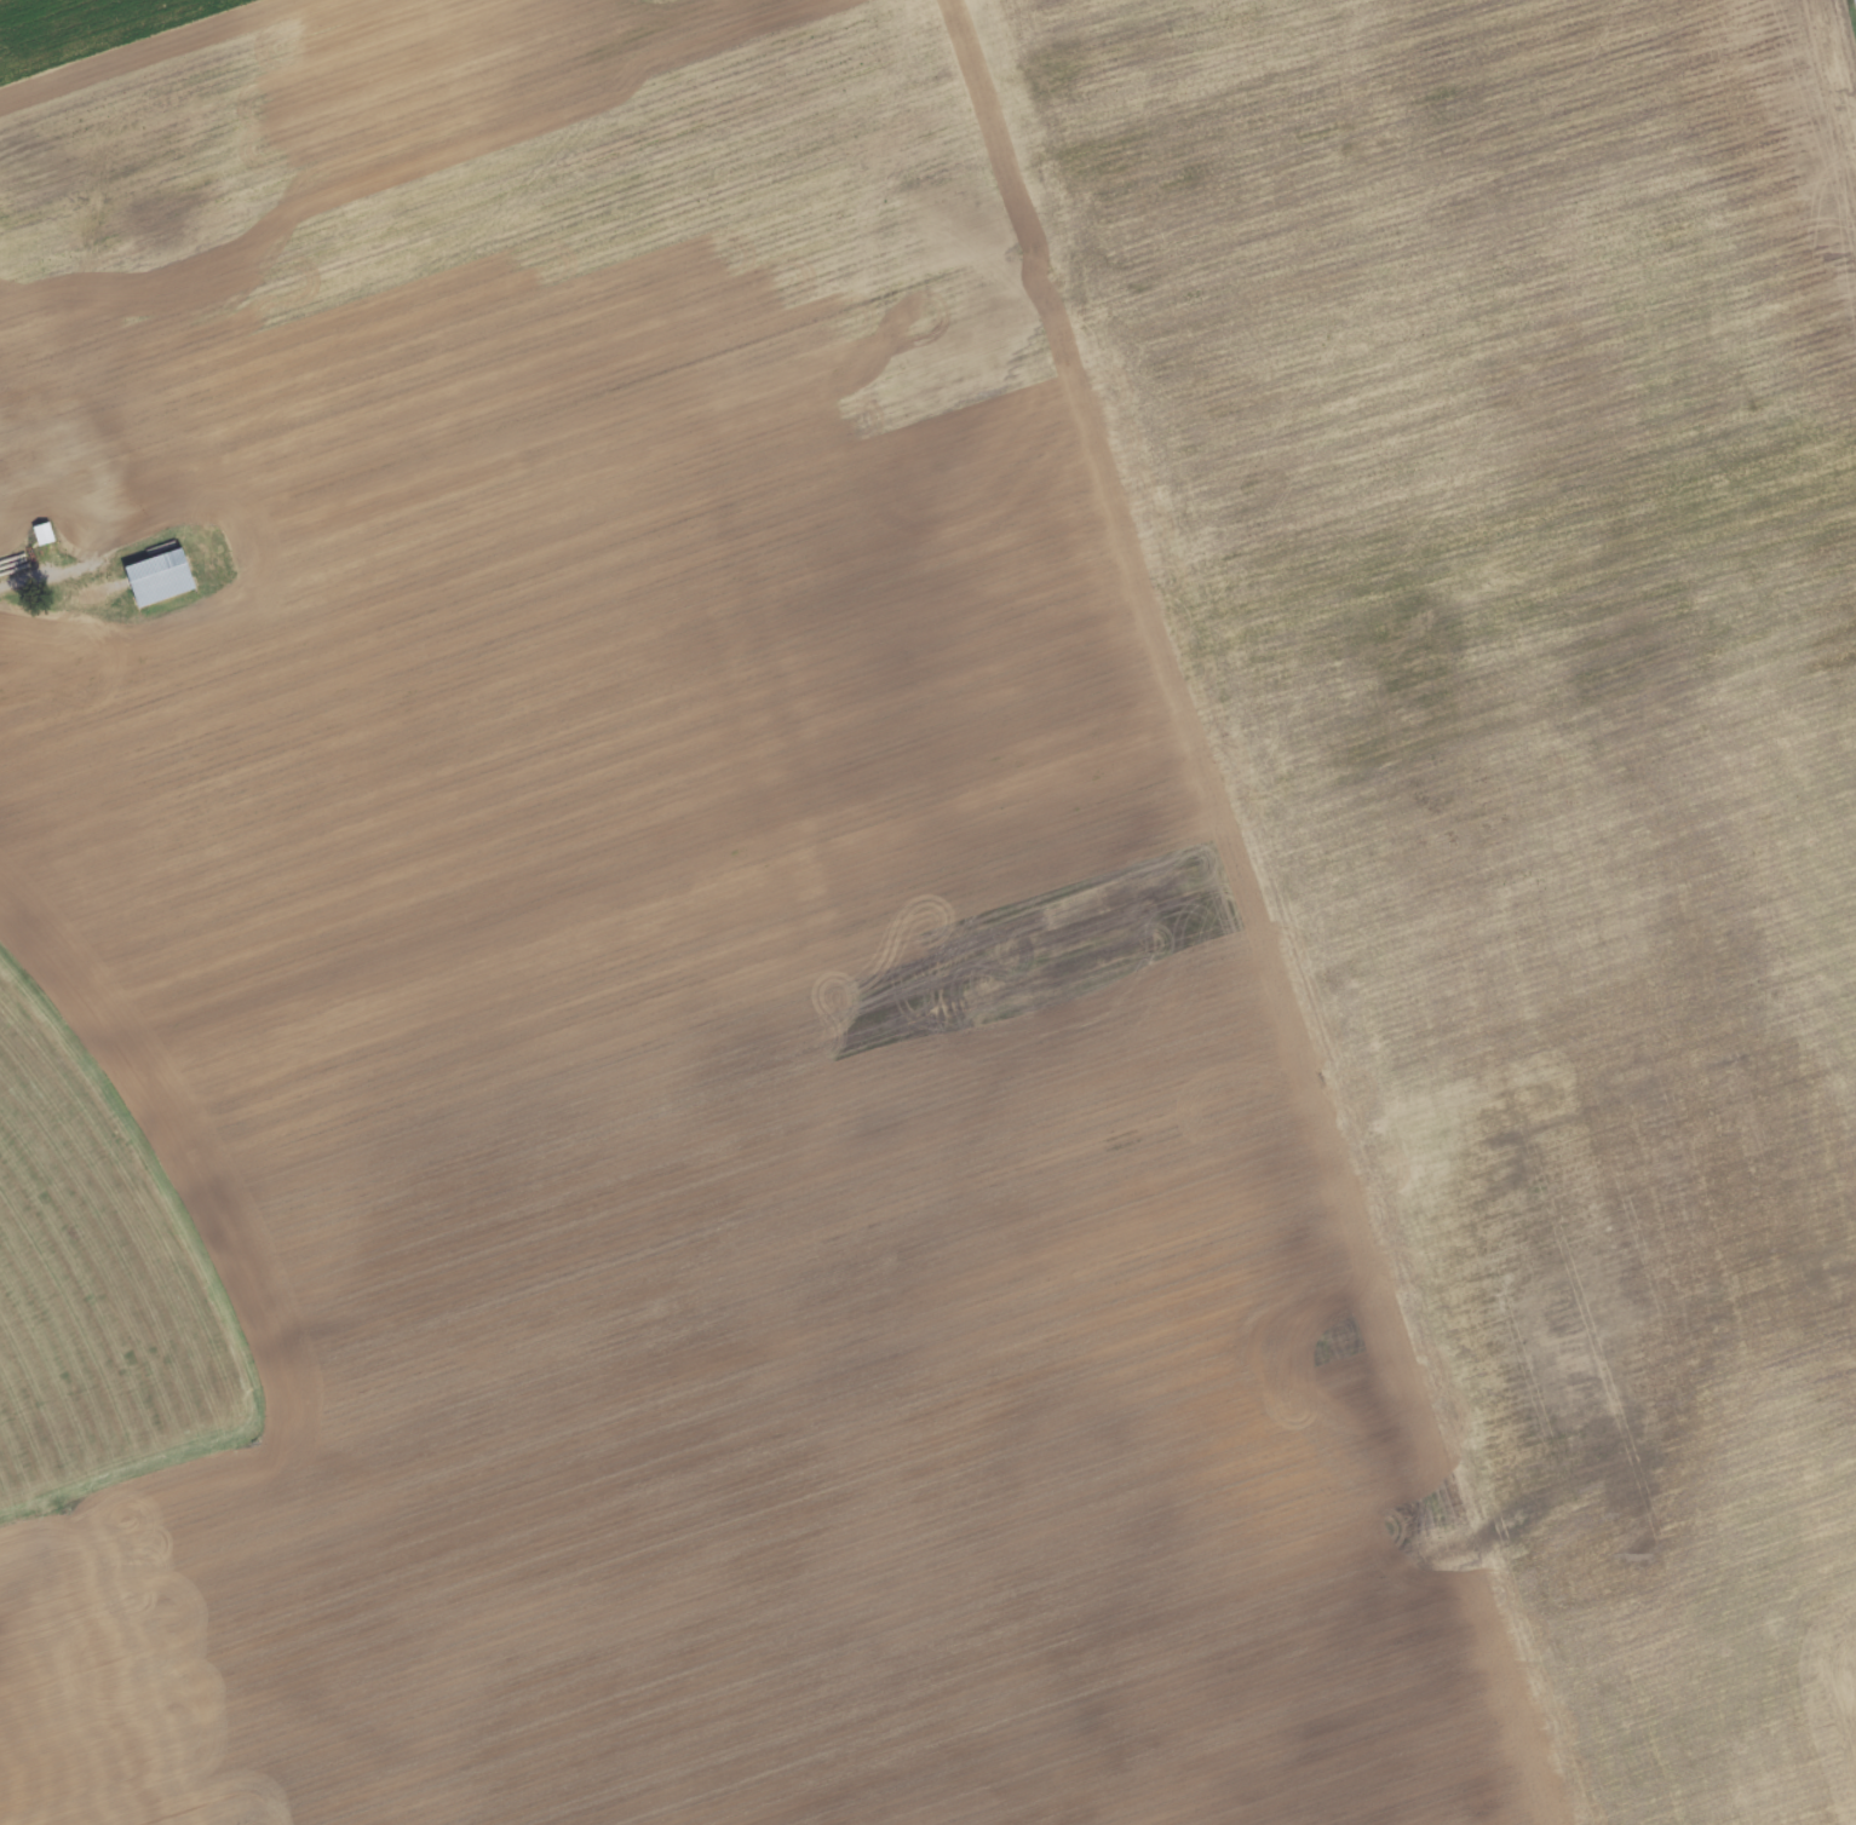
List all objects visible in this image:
building: (12, 421)
building: (77, 531)
building: (45, 536)
building: (4, 543)
road: (36, 575)
building: (161, 580)
road: (114, 1602)

